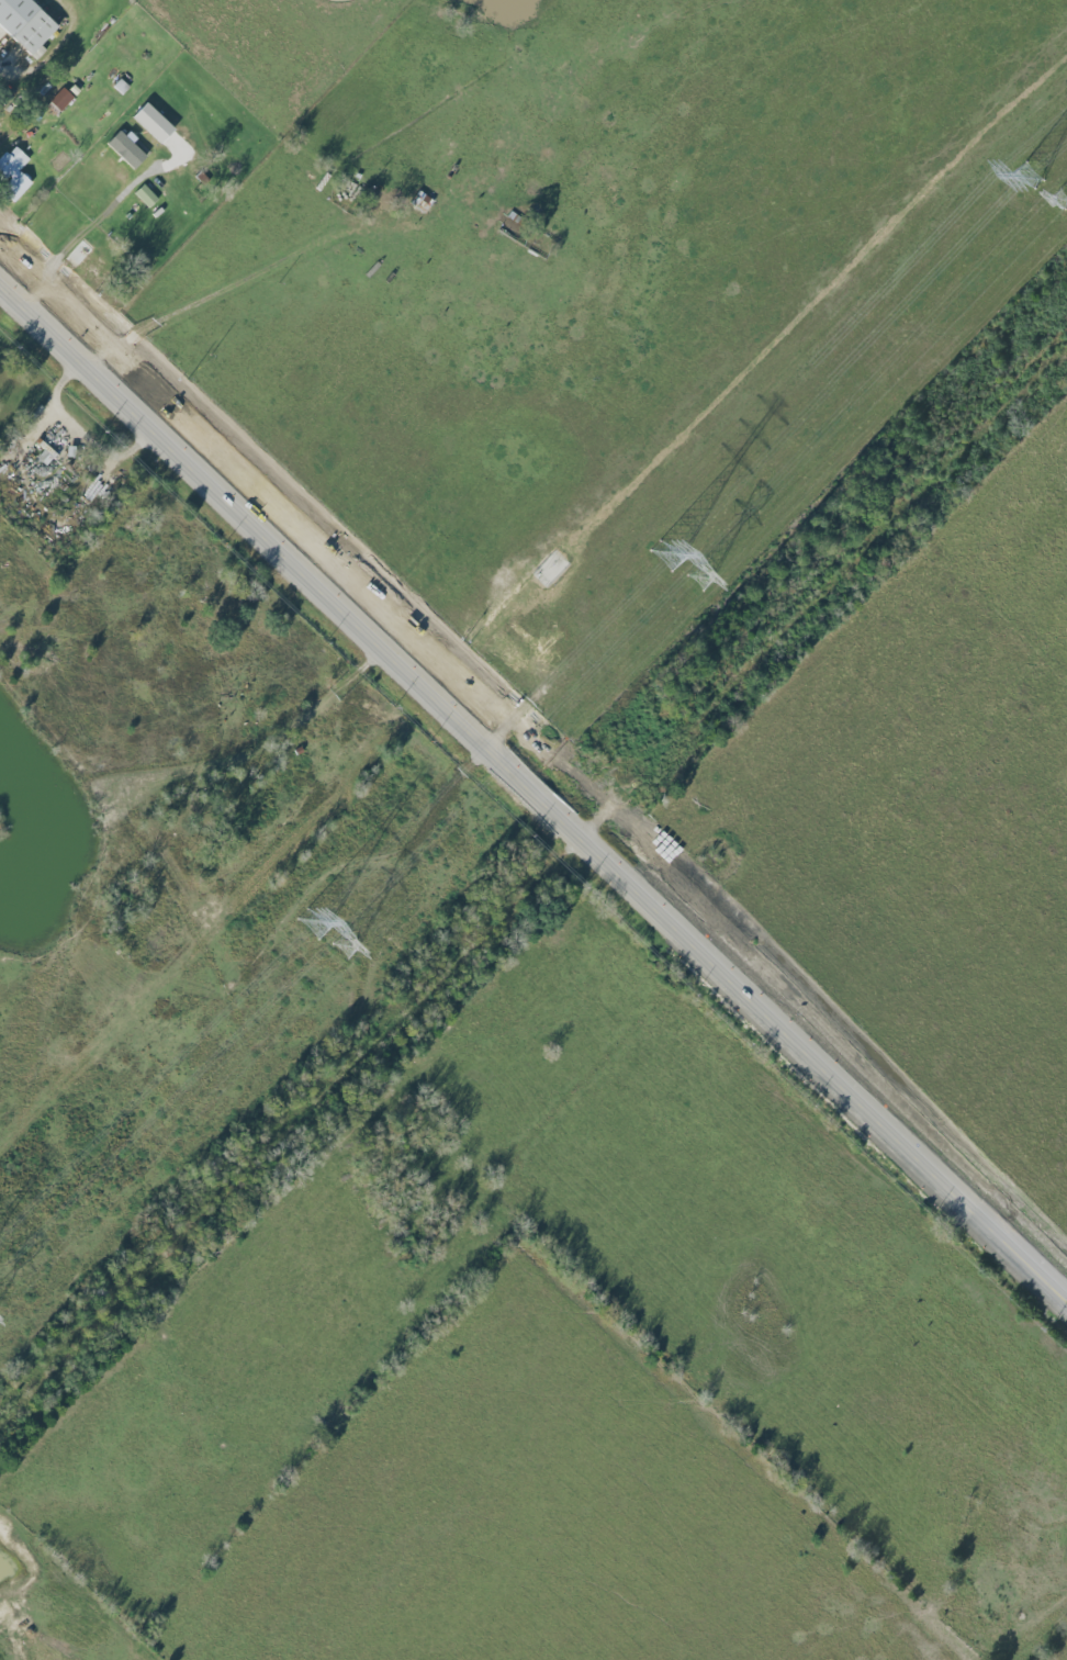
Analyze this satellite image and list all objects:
building: (26, 24)
building: (59, 101)
building: (154, 123)
building: (126, 148)
building: (14, 172)
power tower: (1031, 178)
building: (146, 195)
power tower: (1063, 199)
building: (89, 259)
road: (214, 290)
power tower: (666, 558)
power tower: (699, 579)
road: (532, 787)
railway: (523, 843)
power tower: (311, 923)
power tower: (344, 946)

